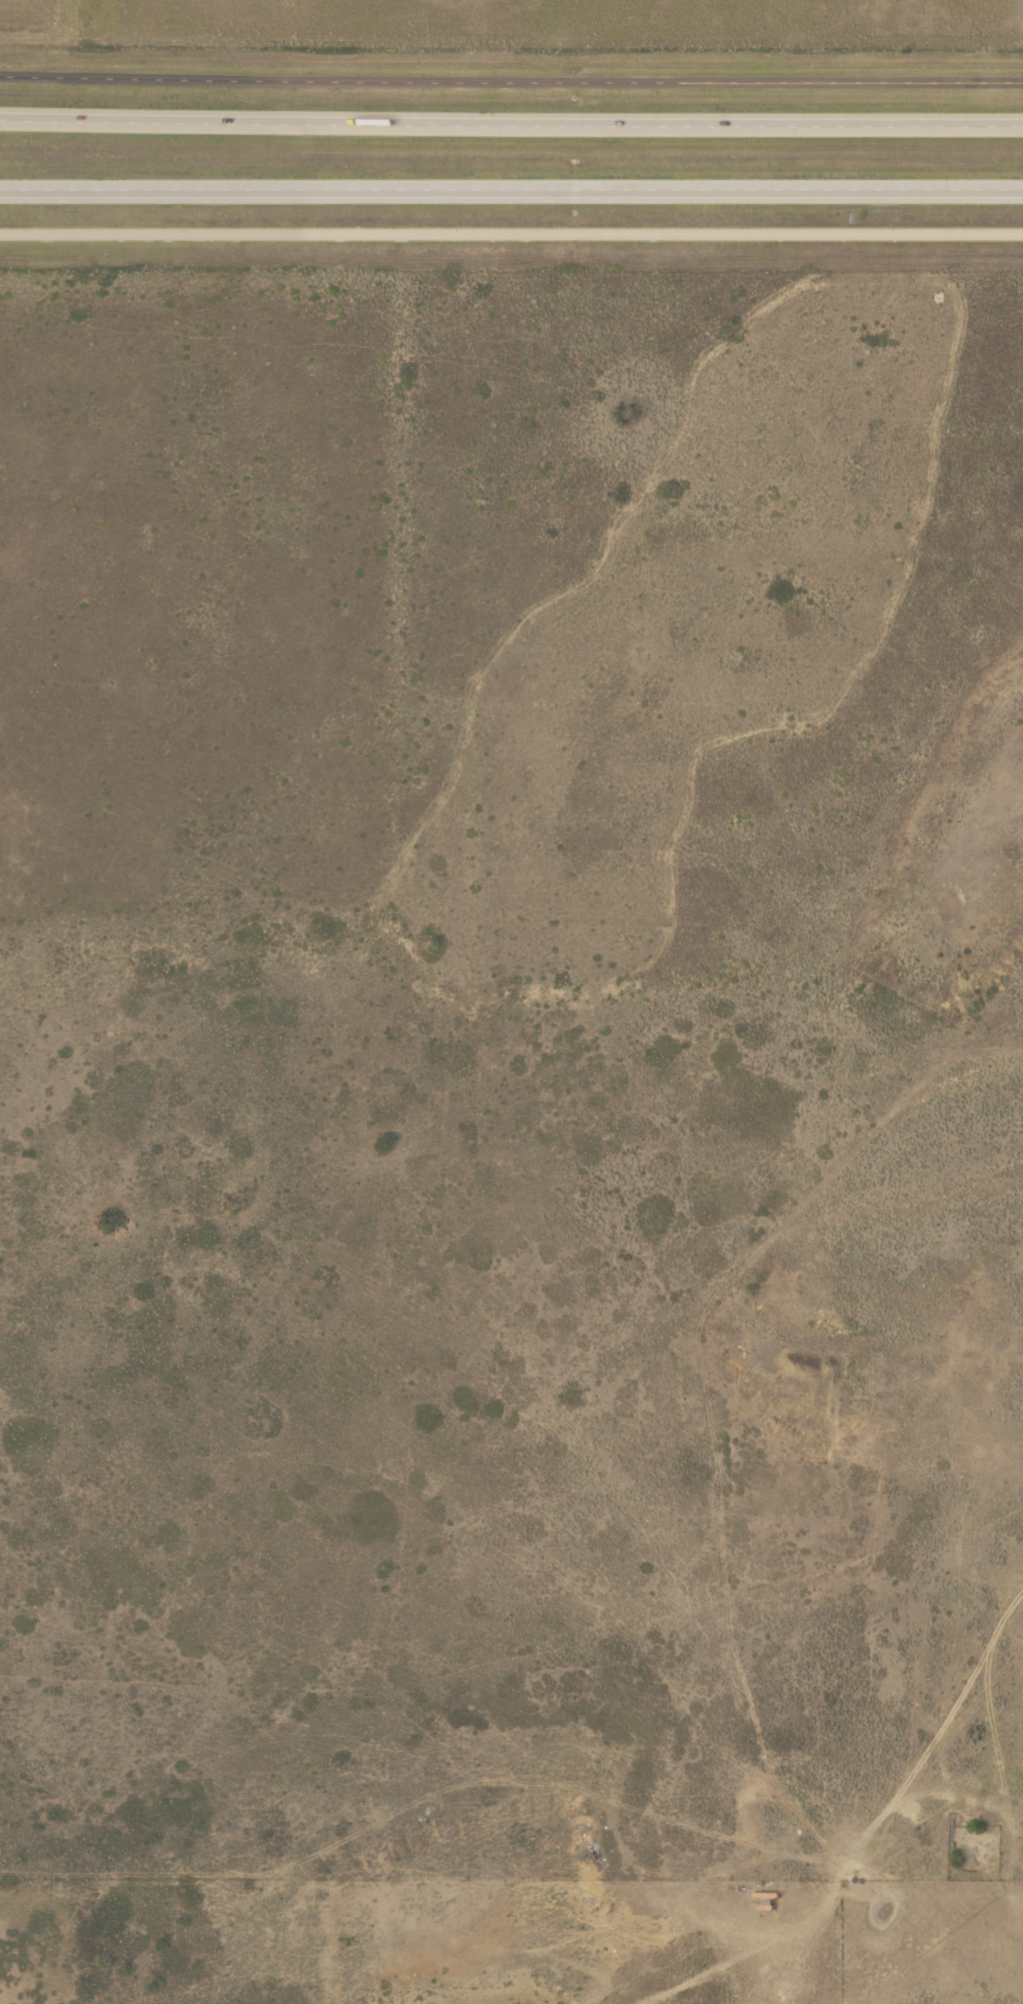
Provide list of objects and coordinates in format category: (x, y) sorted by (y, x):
road: (511, 81)
road: (511, 124)
road: (511, 188)
road: (511, 233)

